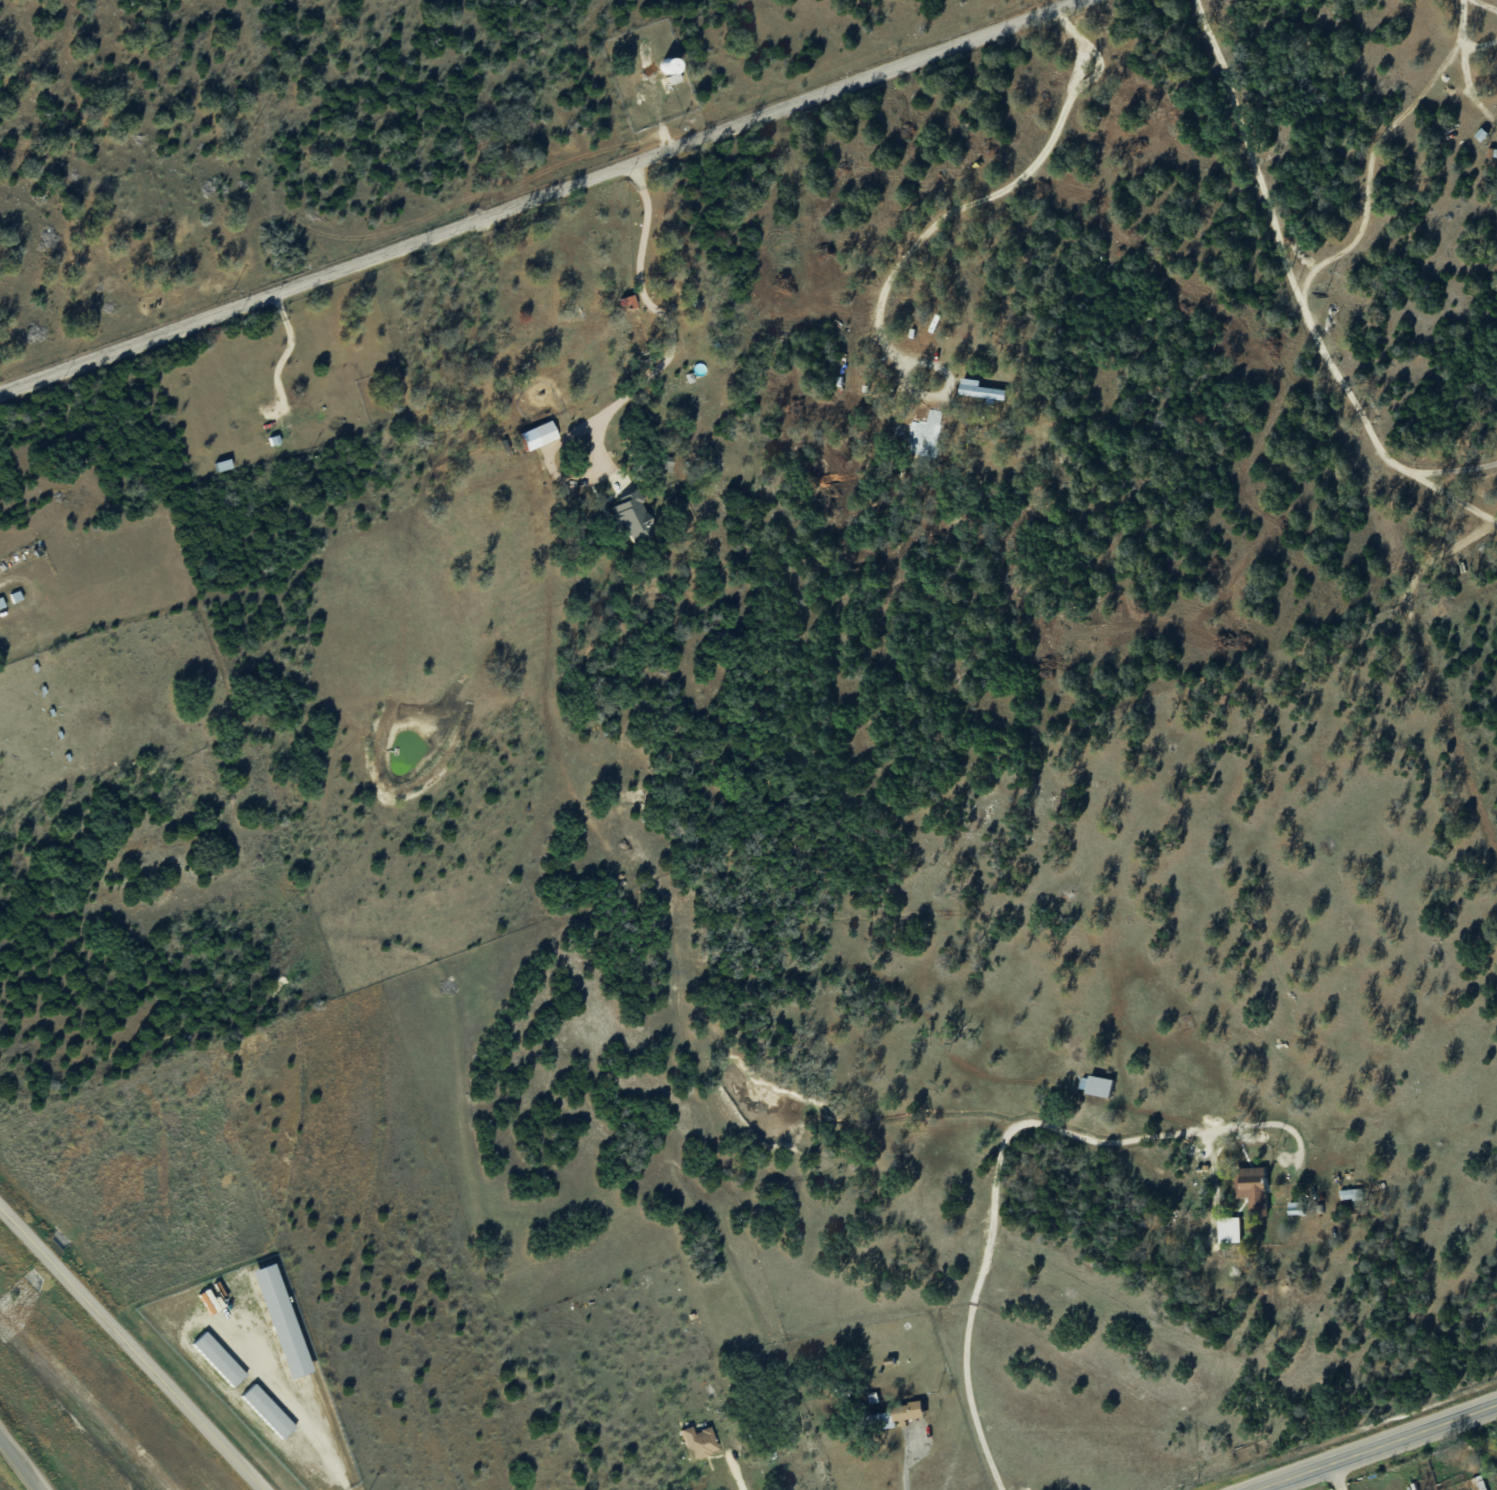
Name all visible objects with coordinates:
road: (1488, 4)
road: (1463, 37)
building: (672, 78)
road: (1368, 161)
road: (544, 197)
road: (936, 220)
road: (1284, 256)
road: (669, 325)
building: (980, 390)
building: (542, 432)
building: (222, 464)
road: (1460, 472)
road: (1458, 501)
building: (631, 517)
building: (1, 603)
building: (1094, 1084)
road: (996, 1161)
building: (1251, 1188)
building: (1349, 1193)
building: (1294, 1207)
building: (1227, 1229)
building: (277, 1320)
road: (131, 1348)
building: (217, 1358)
building: (266, 1410)
road: (299, 1412)
building: (906, 1412)
building: (697, 1441)
road: (1379, 1448)
road: (20, 1463)
road: (903, 1468)
road: (739, 1475)
road: (1338, 1477)

